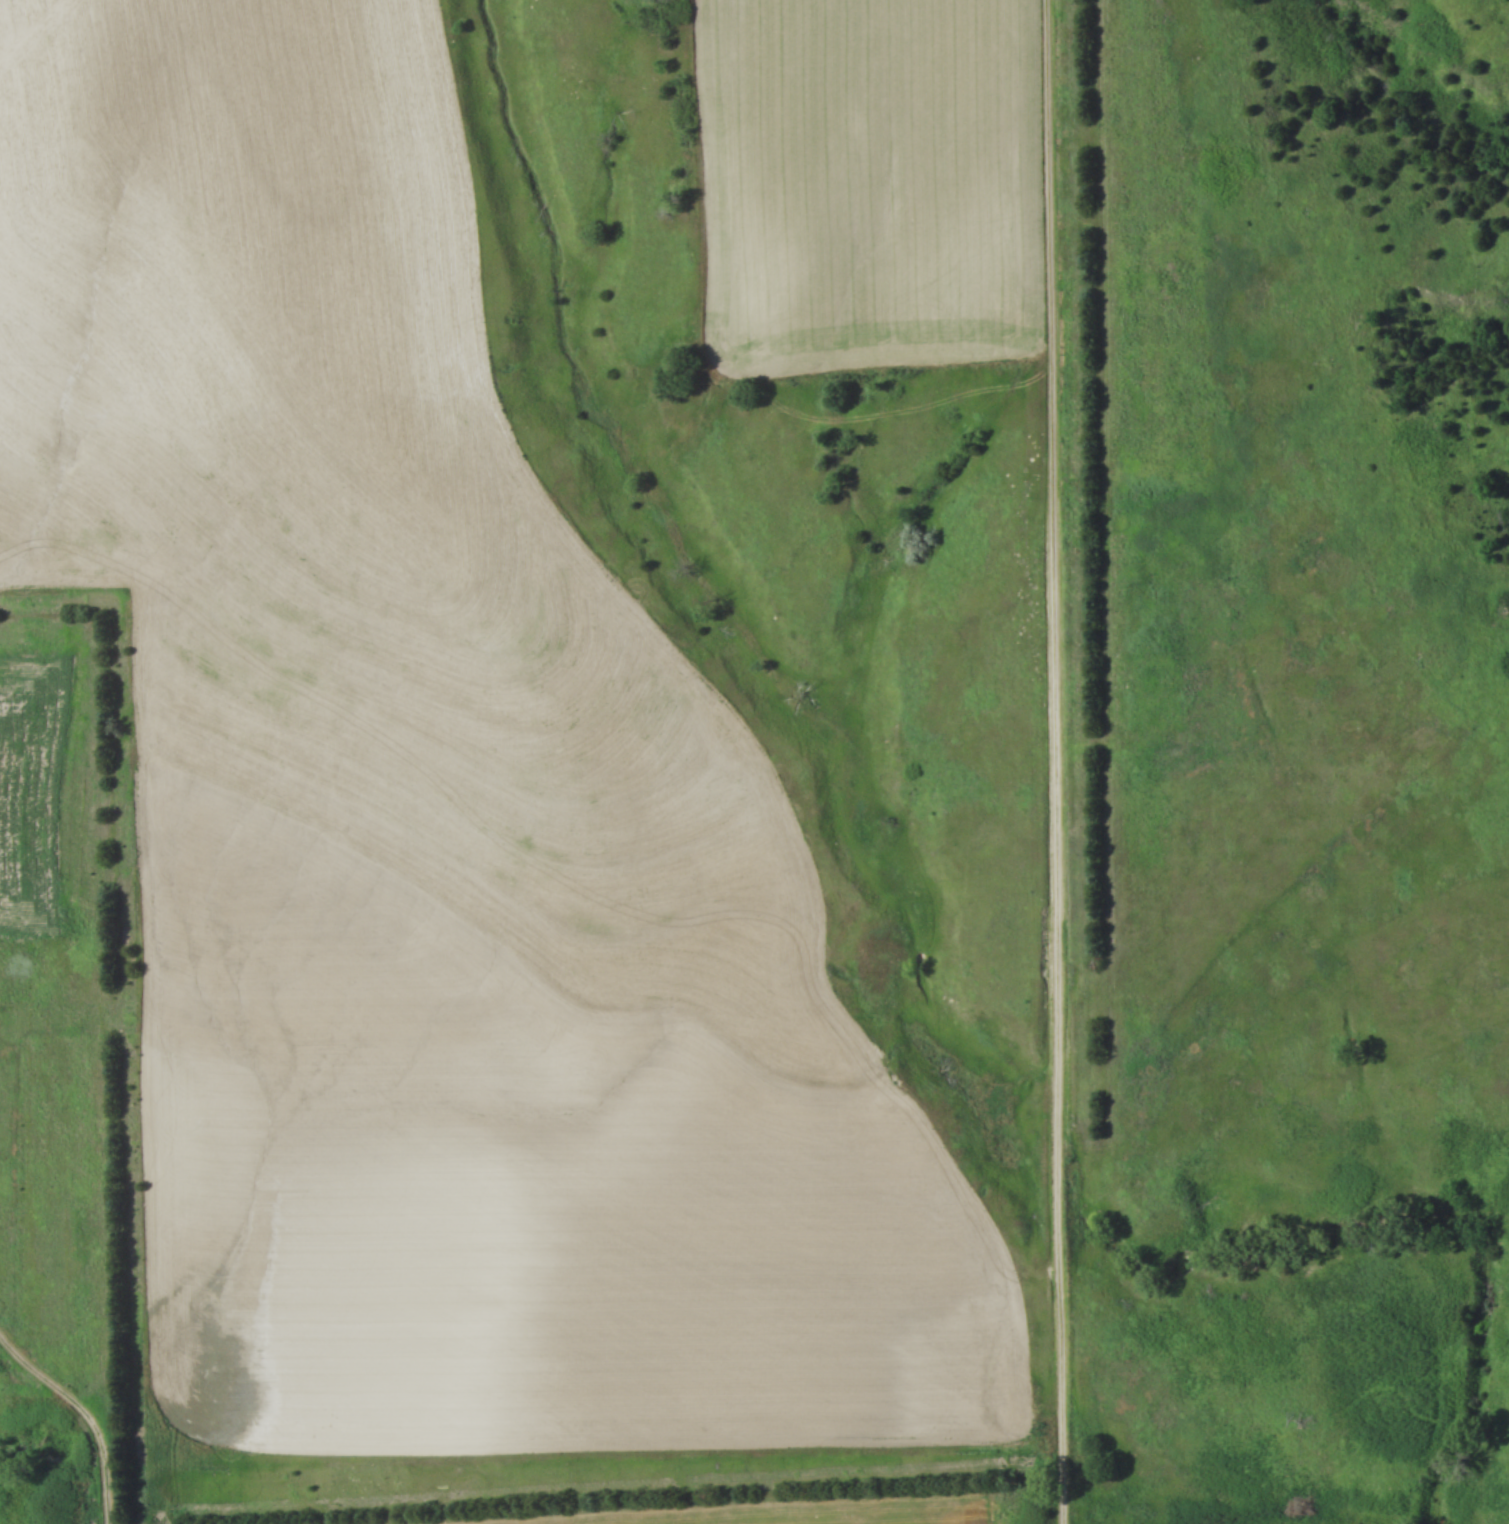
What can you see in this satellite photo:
crop: (360, 507)
road: (1056, 761)
crop: (31, 783)
park: (1099, 821)
crop: (513, 1189)
road: (89, 1409)
crop: (785, 1512)

